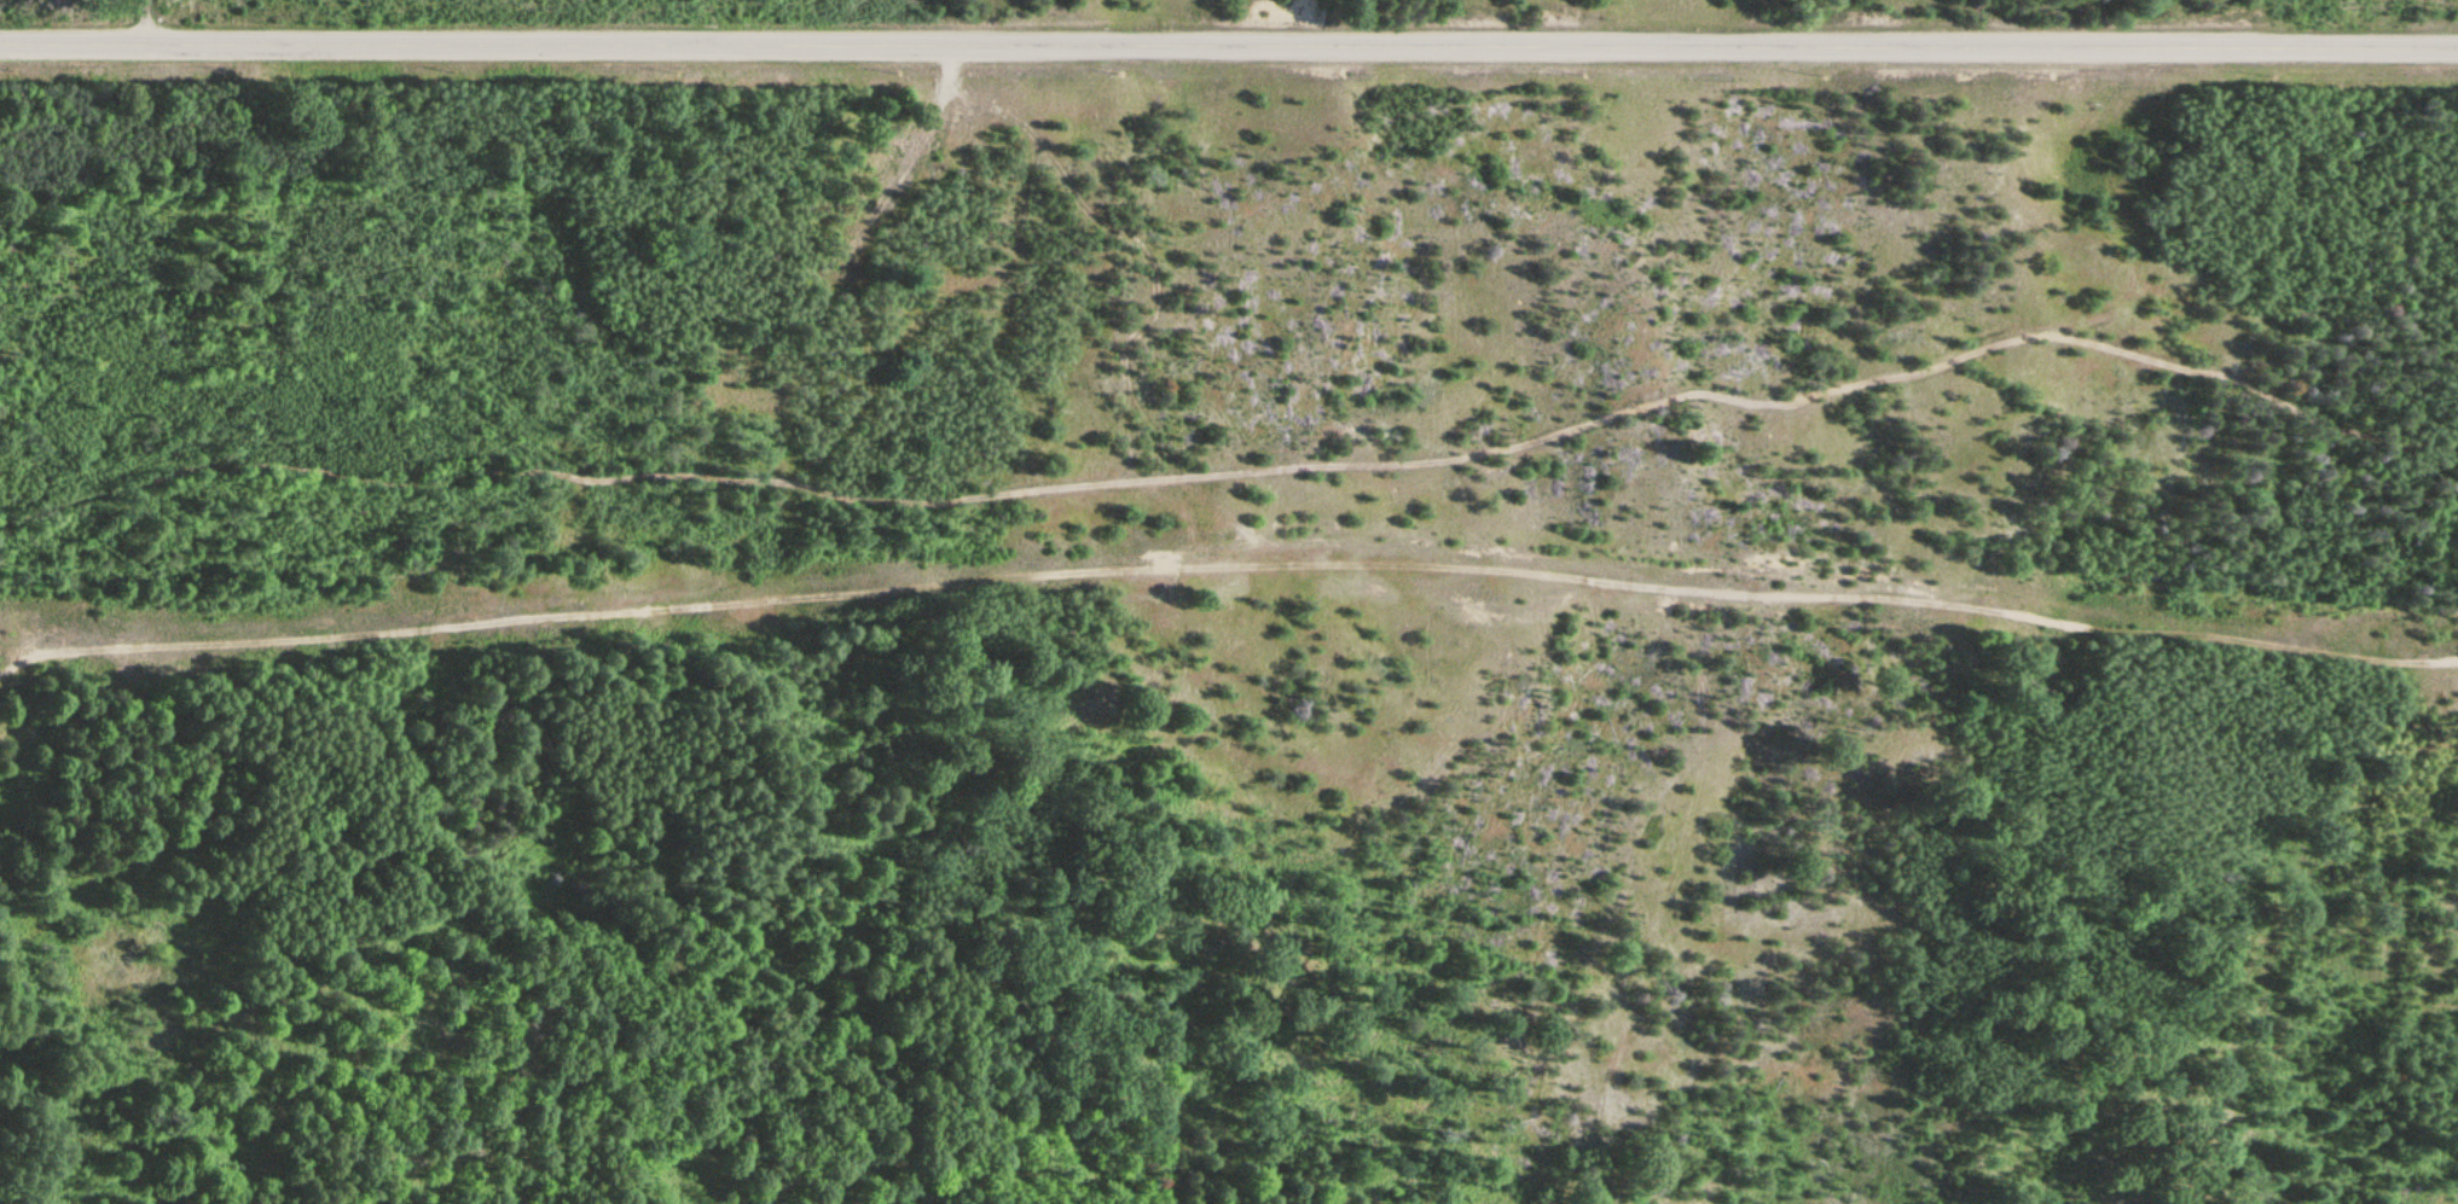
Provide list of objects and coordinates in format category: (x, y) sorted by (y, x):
road: (153, 18)
road: (1228, 40)
road: (1744, 411)
road: (785, 483)
road: (1224, 572)
road: (1213, 691)
road: (633, 767)
road: (19, 860)

